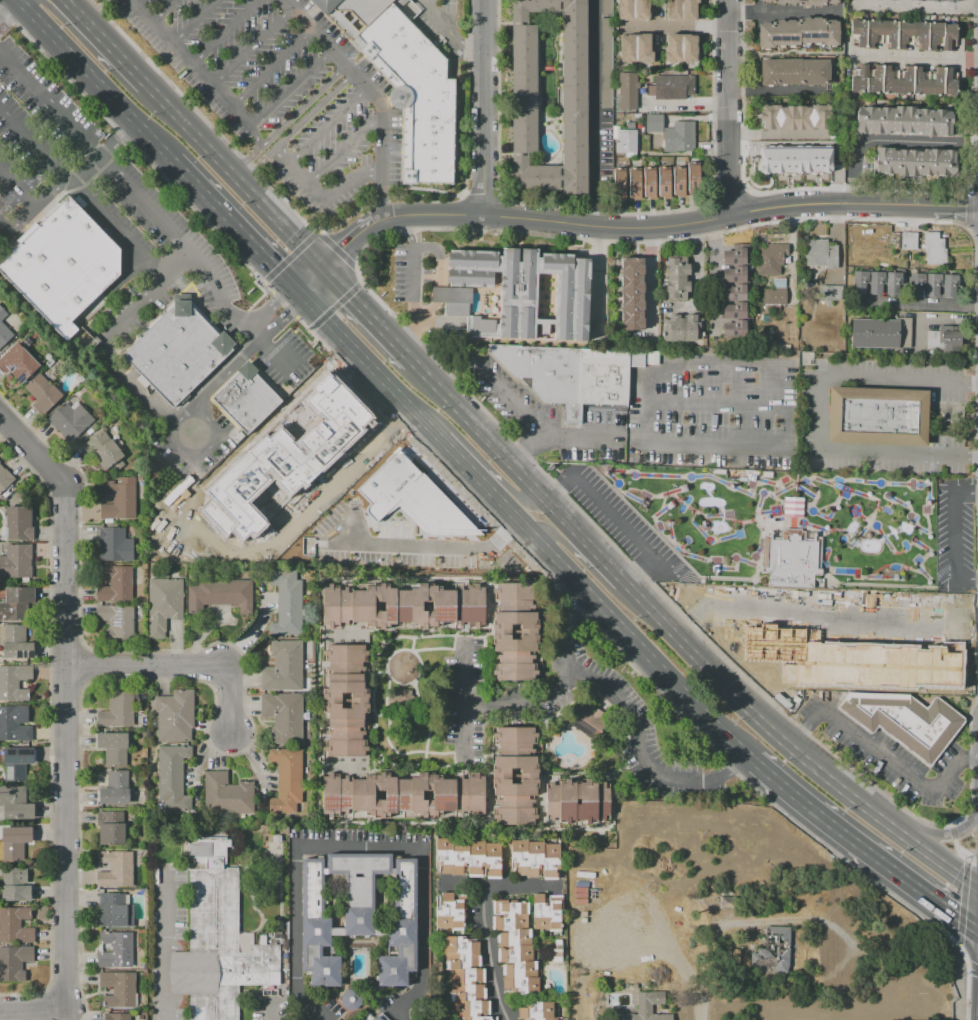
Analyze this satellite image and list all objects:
road: (135, 0)
building: (941, 0)
road: (41, 1)
building: (804, 2)
road: (283, 6)
building: (607, 7)
building: (633, 10)
building: (681, 10)
road: (914, 10)
road: (166, 11)
road: (782, 11)
building: (349, 12)
road: (10, 13)
road: (196, 21)
road: (676, 28)
road: (226, 31)
building: (798, 32)
building: (858, 32)
building: (881, 33)
road: (451, 34)
building: (911, 34)
building: (934, 35)
building: (948, 36)
road: (174, 41)
road: (103, 42)
road: (252, 47)
building: (681, 48)
building: (636, 50)
road: (917, 57)
building: (606, 63)
road: (272, 68)
building: (793, 71)
building: (858, 78)
building: (873, 78)
building: (896, 79)
building: (926, 80)
road: (95, 81)
building: (949, 81)
building: (672, 87)
building: (524, 88)
road: (291, 90)
building: (627, 91)
building: (414, 92)
road: (778, 92)
parking lot: (284, 93)
road: (373, 99)
road: (235, 103)
road: (484, 107)
road: (686, 107)
road: (728, 108)
road: (592, 113)
building: (794, 117)
building: (905, 120)
road: (287, 121)
building: (653, 123)
road: (328, 127)
road: (296, 129)
road: (781, 135)
building: (679, 136)
road: (255, 138)
building: (624, 140)
road: (881, 141)
road: (346, 150)
road: (103, 154)
building: (792, 159)
building: (915, 161)
road: (232, 175)
building: (694, 179)
building: (679, 182)
building: (649, 184)
building: (664, 184)
building: (619, 185)
building: (635, 185)
road: (17, 187)
road: (812, 189)
road: (322, 198)
road: (32, 207)
road: (730, 215)
road: (393, 217)
parking lot: (126, 225)
road: (235, 226)
road: (407, 231)
building: (909, 240)
building: (934, 249)
road: (187, 251)
building: (819, 253)
building: (734, 256)
building: (771, 258)
building: (62, 264)
building: (677, 266)
traffic signals: (321, 268)
parking lot: (408, 274)
building: (734, 274)
road: (427, 277)
road: (716, 277)
road: (600, 278)
road: (309, 279)
building: (859, 281)
building: (876, 282)
building: (892, 283)
building: (915, 283)
building: (932, 284)
building: (949, 285)
road: (414, 287)
building: (676, 288)
traffic signals: (297, 291)
building: (518, 292)
building: (734, 292)
building: (776, 292)
road: (440, 293)
building: (631, 293)
building: (829, 293)
road: (919, 305)
road: (269, 308)
building: (734, 310)
building: (2, 314)
road: (230, 316)
road: (368, 316)
road: (283, 320)
road: (442, 323)
building: (682, 328)
building: (734, 329)
building: (881, 333)
building: (4, 334)
building: (932, 339)
building: (950, 339)
building: (176, 352)
road: (106, 353)
road: (337, 359)
building: (17, 362)
road: (443, 364)
road: (370, 367)
road: (760, 367)
building: (572, 374)
road: (225, 376)
road: (973, 378)
building: (36, 386)
building: (247, 399)
road: (509, 399)
building: (46, 400)
road: (649, 402)
road: (720, 404)
road: (818, 415)
building: (879, 417)
building: (69, 419)
road: (211, 428)
road: (260, 431)
road: (666, 441)
building: (102, 449)
road: (527, 450)
road: (497, 452)
road: (33, 457)
road: (973, 459)
building: (279, 464)
road: (468, 470)
building: (5, 478)
road: (559, 490)
road: (966, 492)
road: (516, 497)
building: (119, 500)
building: (405, 501)
building: (793, 505)
road: (616, 519)
building: (17, 524)
parking lot: (623, 526)
road: (555, 535)
parking lot: (956, 536)
road: (954, 537)
building: (114, 544)
building: (792, 559)
road: (601, 560)
building: (16, 561)
road: (643, 574)
road: (965, 582)
building: (114, 583)
building: (219, 594)
building: (286, 601)
building: (16, 603)
building: (162, 604)
building: (403, 606)
building: (116, 621)
road: (621, 629)
building: (528, 631)
building: (16, 643)
building: (858, 662)
building: (283, 666)
road: (184, 668)
building: (14, 683)
road: (557, 685)
road: (464, 697)
building: (358, 700)
building: (398, 700)
building: (117, 711)
building: (283, 716)
building: (173, 717)
building: (589, 720)
building: (905, 721)
building: (15, 724)
road: (639, 735)
road: (795, 735)
building: (112, 748)
road: (790, 748)
road: (66, 751)
road: (883, 755)
parking lot: (892, 757)
road: (967, 759)
building: (16, 762)
road: (735, 768)
building: (172, 778)
building: (501, 778)
building: (287, 781)
building: (114, 788)
building: (227, 794)
building: (402, 795)
building: (560, 801)
building: (15, 803)
building: (110, 827)
road: (934, 835)
building: (276, 838)
building: (14, 842)
road: (863, 848)
road: (359, 852)
building: (443, 856)
building: (460, 857)
building: (518, 857)
building: (476, 859)
building: (534, 859)
building: (493, 860)
building: (550, 861)
building: (115, 868)
building: (14, 884)
road: (500, 886)
building: (358, 887)
building: (509, 908)
building: (114, 911)
building: (449, 913)
building: (547, 913)
building: (509, 922)
building: (15, 925)
building: (400, 925)
building: (316, 928)
building: (513, 937)
building: (218, 938)
road: (164, 944)
building: (461, 944)
building: (116, 949)
building: (772, 950)
building: (557, 951)
road: (489, 954)
building: (516, 954)
building: (461, 960)
building: (14, 962)
building: (522, 970)
building: (466, 976)
building: (521, 986)
building: (118, 989)
building: (467, 992)
building: (351, 999)
building: (645, 1007)
building: (471, 1008)
road: (33, 1009)
building: (538, 1010)
road: (272, 1011)
building: (117, 1016)
building: (373, 1017)
building: (475, 1018)
building: (336, 1019)
building: (541, 1019)

